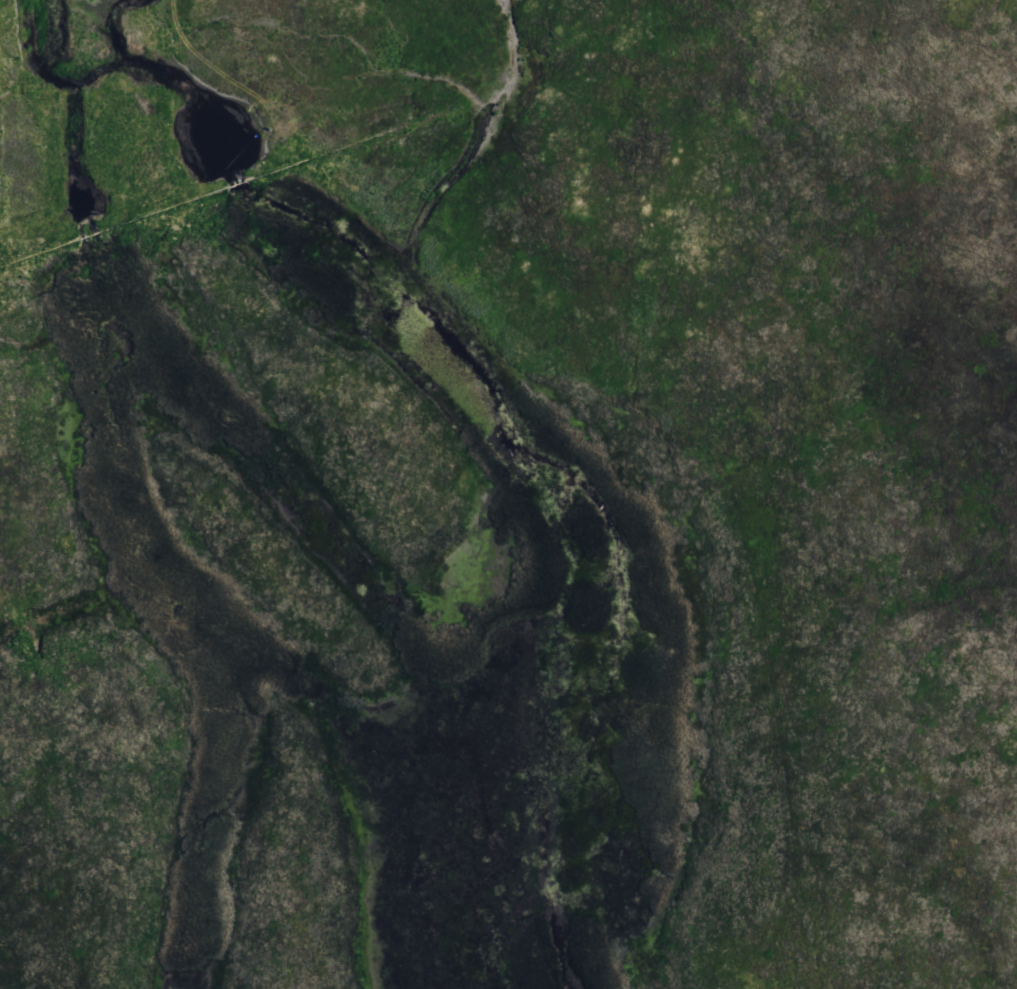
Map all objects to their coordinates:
crop: (508, 494)

